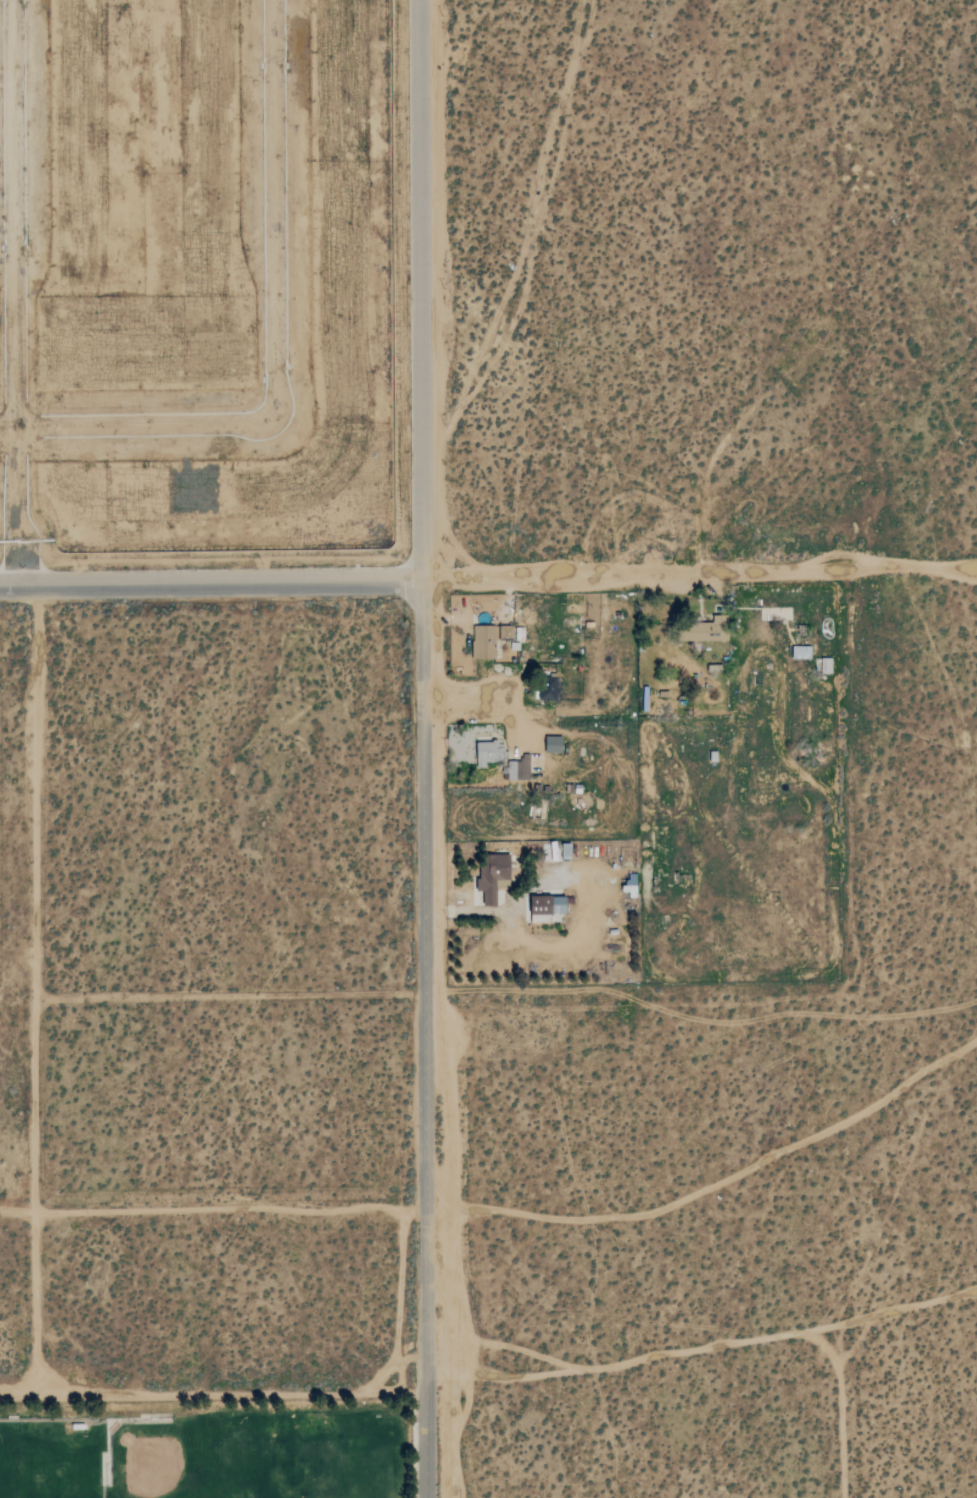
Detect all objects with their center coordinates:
road: (7, 293)
road: (273, 345)
road: (4, 431)
road: (698, 576)
road: (210, 584)
building: (506, 633)
building: (484, 643)
building: (826, 666)
building: (548, 696)
building: (554, 745)
road: (420, 749)
building: (489, 754)
building: (519, 770)
building: (494, 878)
building: (547, 908)
road: (32, 988)
road: (226, 991)
road: (212, 1391)
park: (214, 1447)

